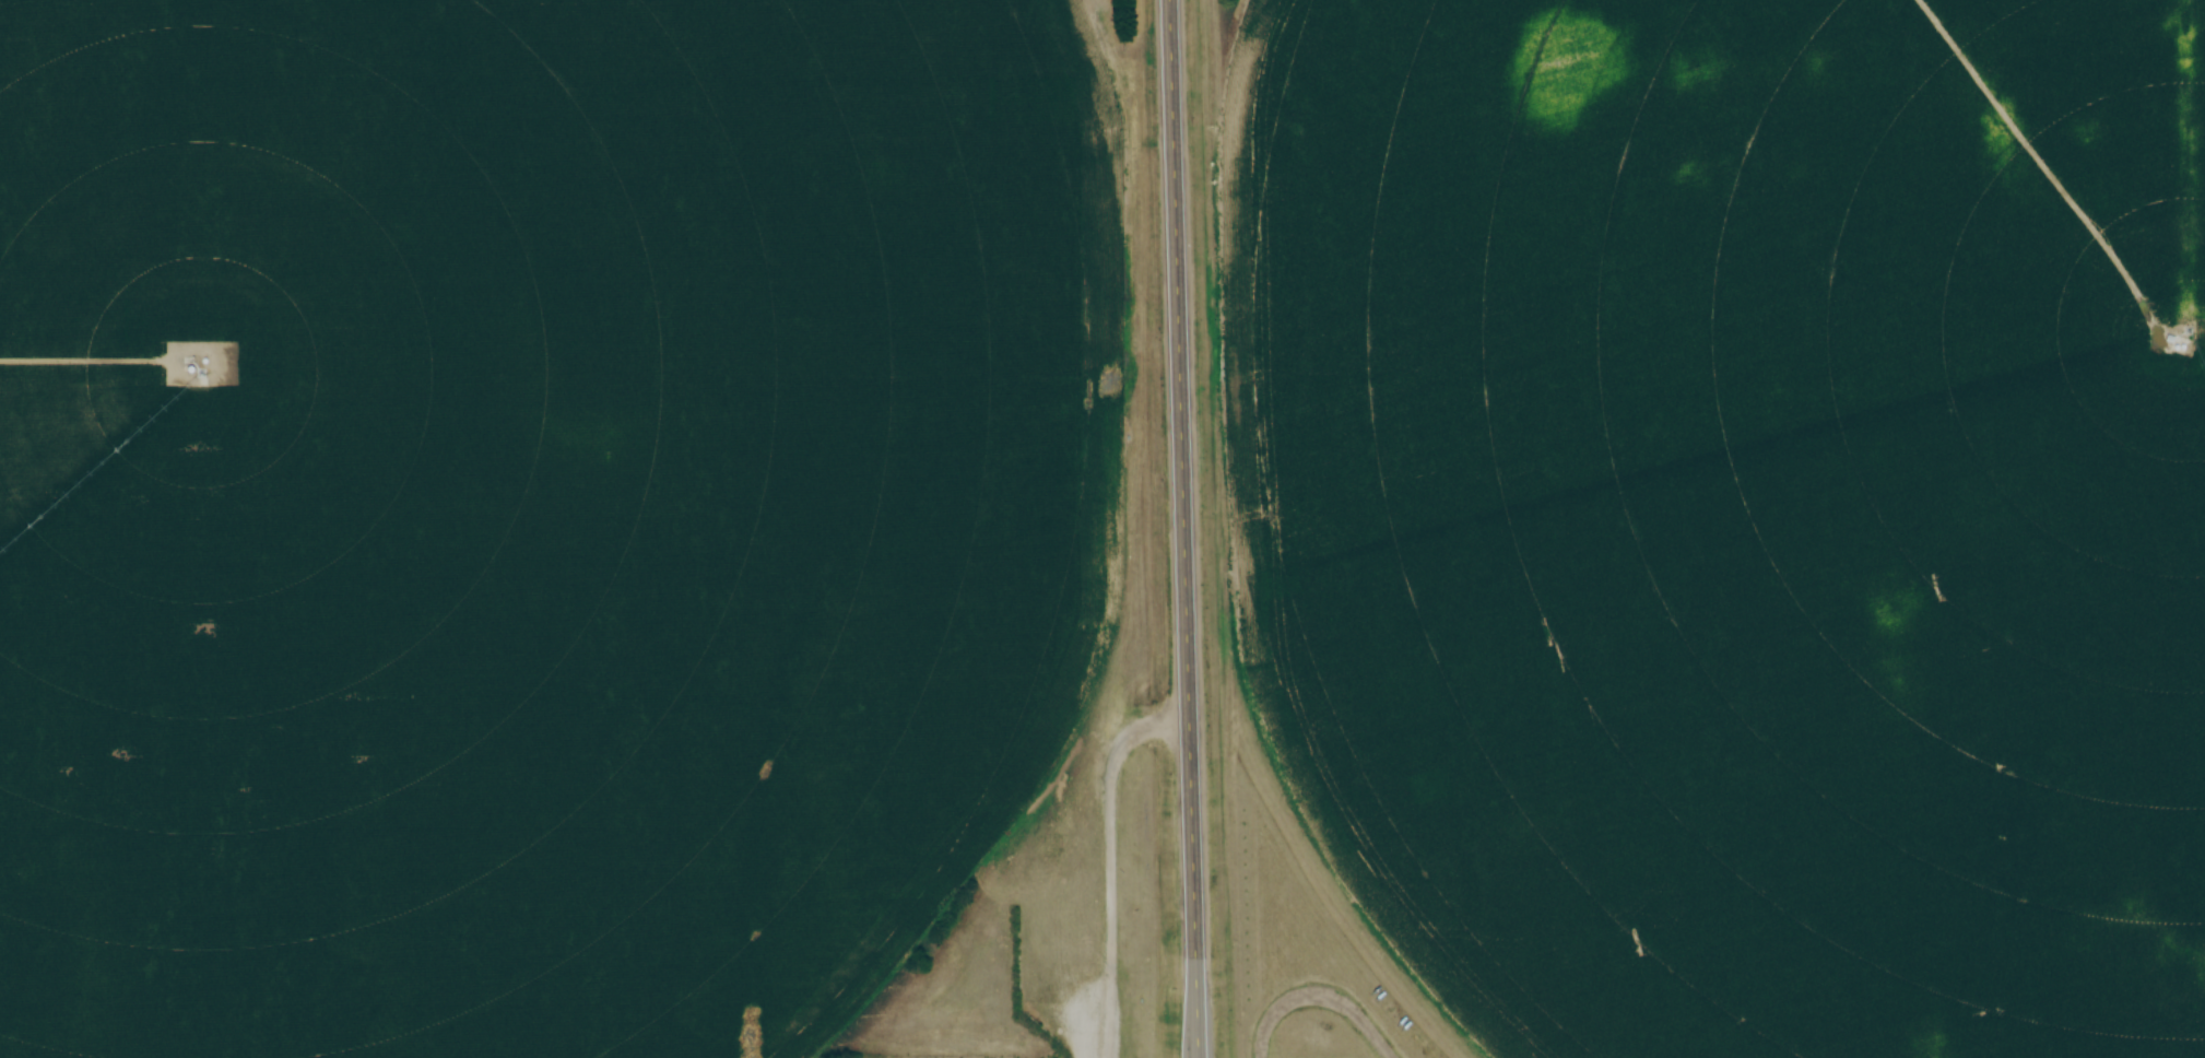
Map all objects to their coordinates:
building: (1265, 375)
road: (1186, 528)
road: (1112, 860)

